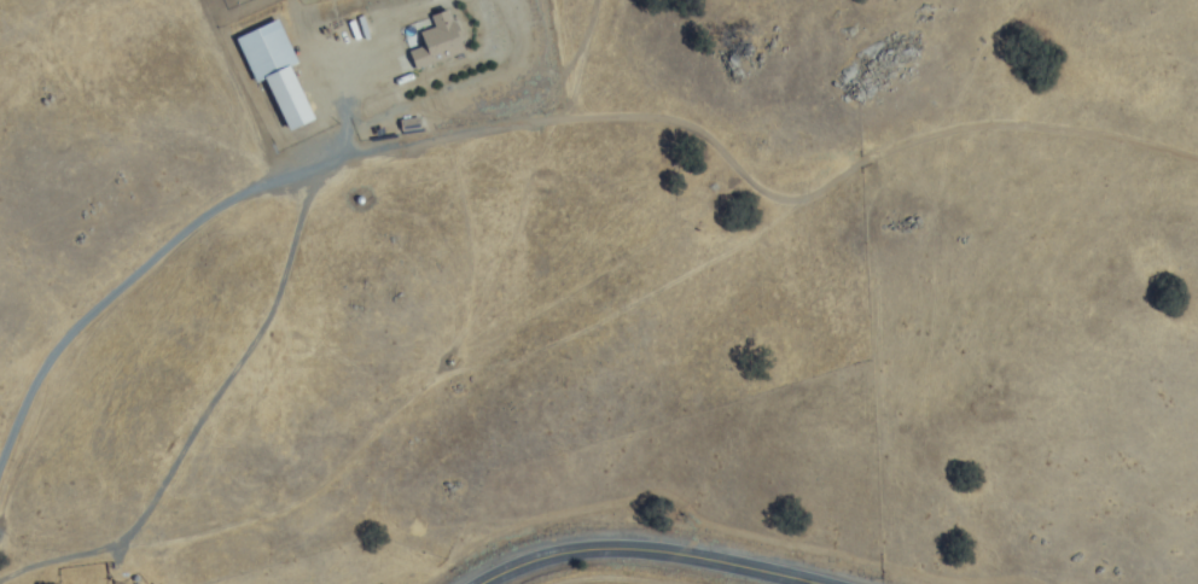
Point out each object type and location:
building: (436, 41)
building: (274, 69)
road: (130, 278)
road: (640, 548)

